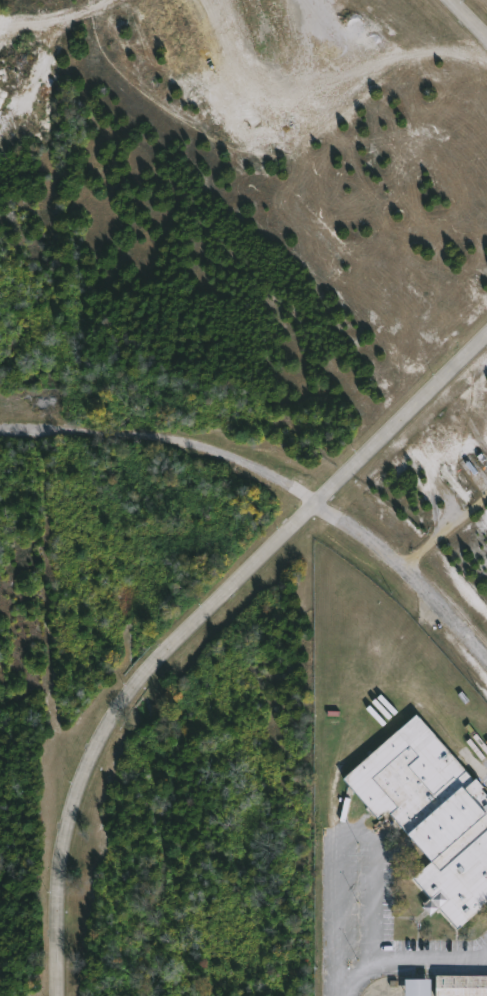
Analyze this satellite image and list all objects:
road: (467, 20)
airport: (261, 226)
road: (275, 477)
road: (443, 534)
road: (193, 624)
building: (431, 814)
road: (407, 957)
building: (461, 985)
building: (418, 987)

